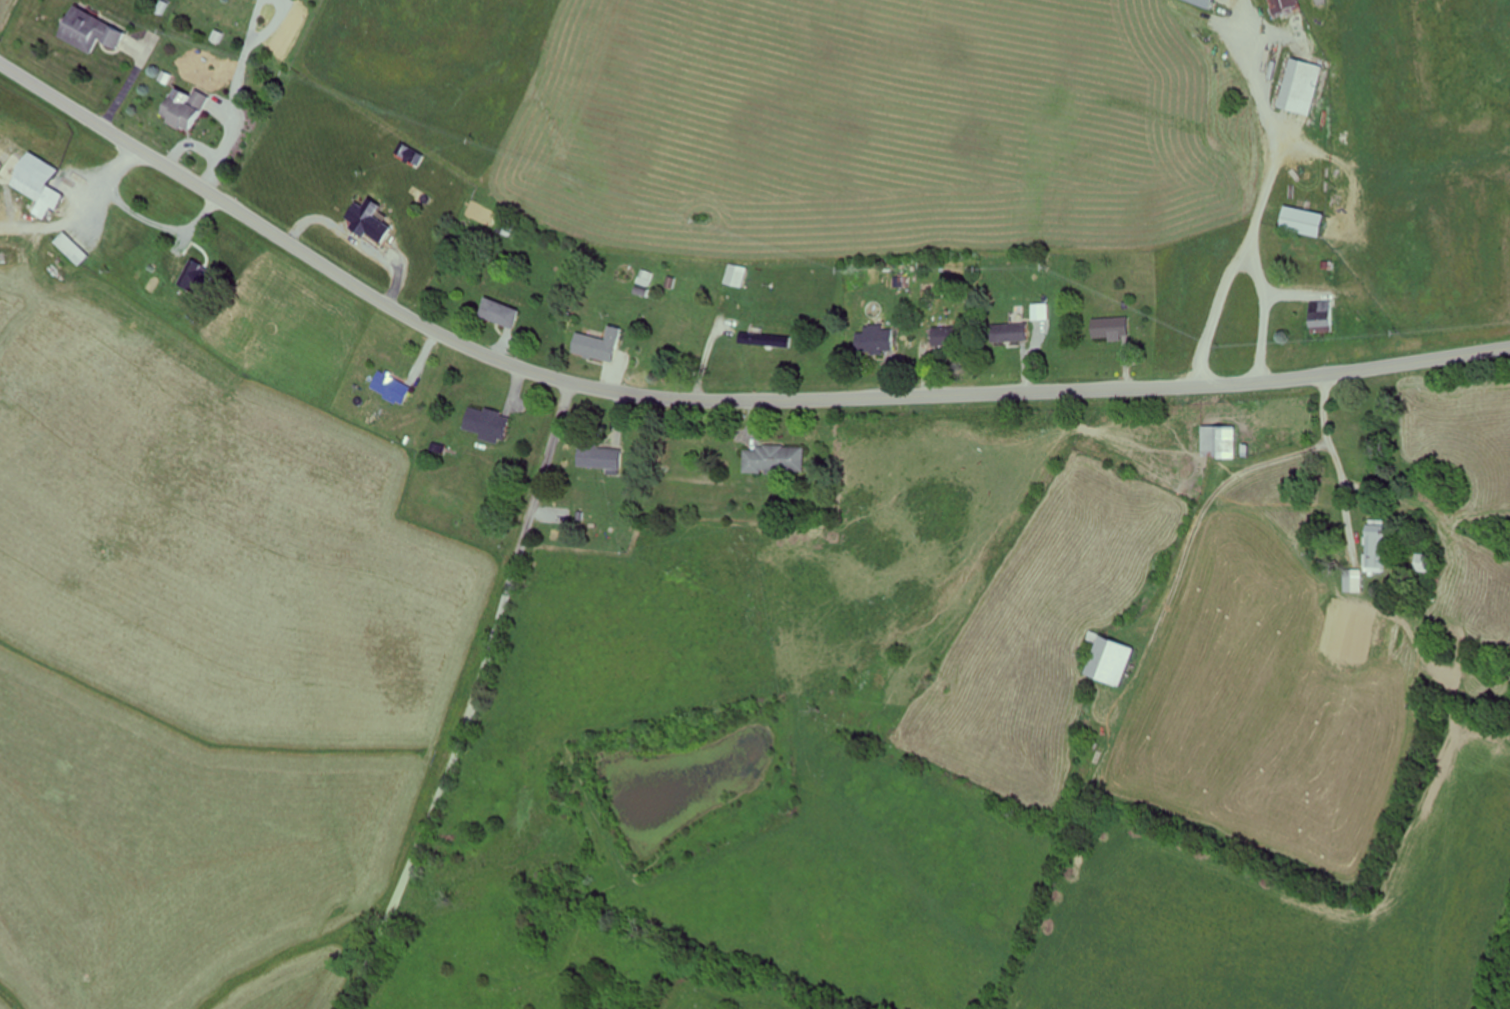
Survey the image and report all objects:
building: (1203, 3)
building: (1284, 7)
building: (97, 30)
building: (1300, 93)
building: (190, 110)
building: (50, 183)
road: (1208, 193)
building: (375, 221)
building: (1297, 221)
building: (79, 248)
building: (203, 277)
building: (650, 278)
building: (738, 280)
building: (1037, 312)
building: (507, 313)
building: (1315, 317)
building: (1107, 328)
building: (1011, 333)
building: (949, 335)
building: (880, 342)
building: (606, 345)
building: (396, 387)
road: (712, 400)
building: (493, 424)
building: (1218, 442)
building: (609, 458)
building: (781, 459)
building: (1377, 546)
building: (1352, 581)
building: (1105, 661)
road: (470, 699)

